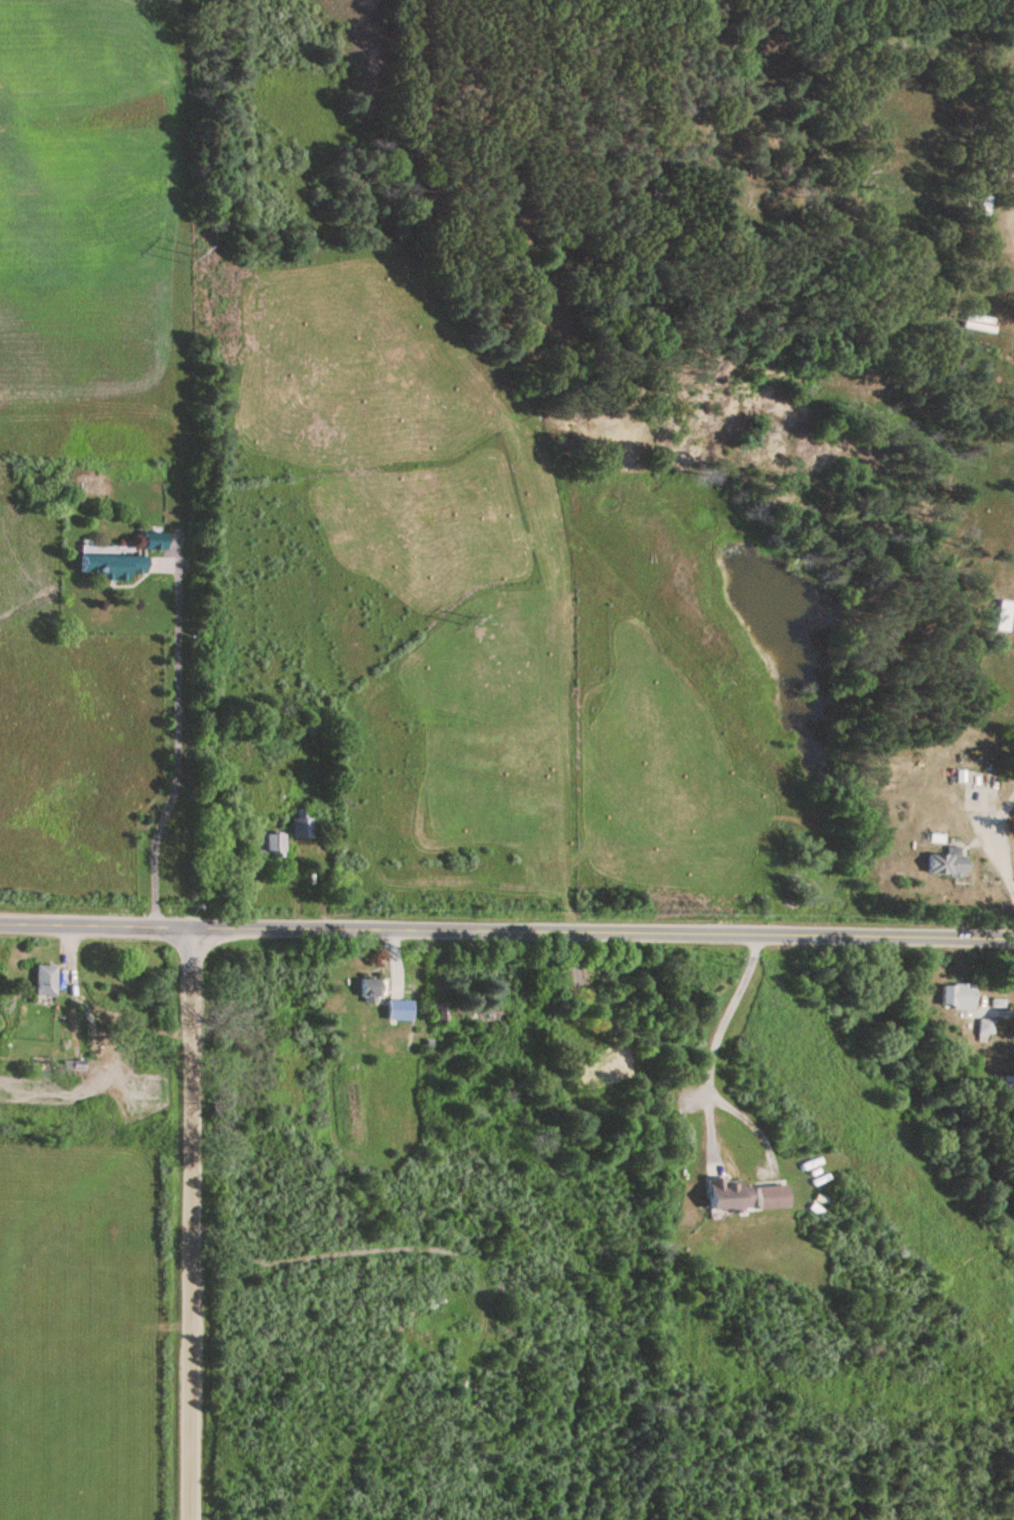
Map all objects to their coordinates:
power tower: (190, 253)
building: (980, 321)
building: (154, 543)
building: (111, 568)
building: (1003, 618)
power tower: (468, 620)
building: (307, 729)
road: (178, 749)
building: (301, 826)
building: (269, 846)
road: (996, 850)
building: (946, 865)
road: (507, 936)
power tower: (732, 959)
building: (46, 982)
building: (371, 990)
building: (956, 998)
road: (999, 1007)
building: (479, 1016)
building: (984, 1032)
road: (713, 1045)
building: (731, 1198)
building: (772, 1201)
road: (195, 1225)

